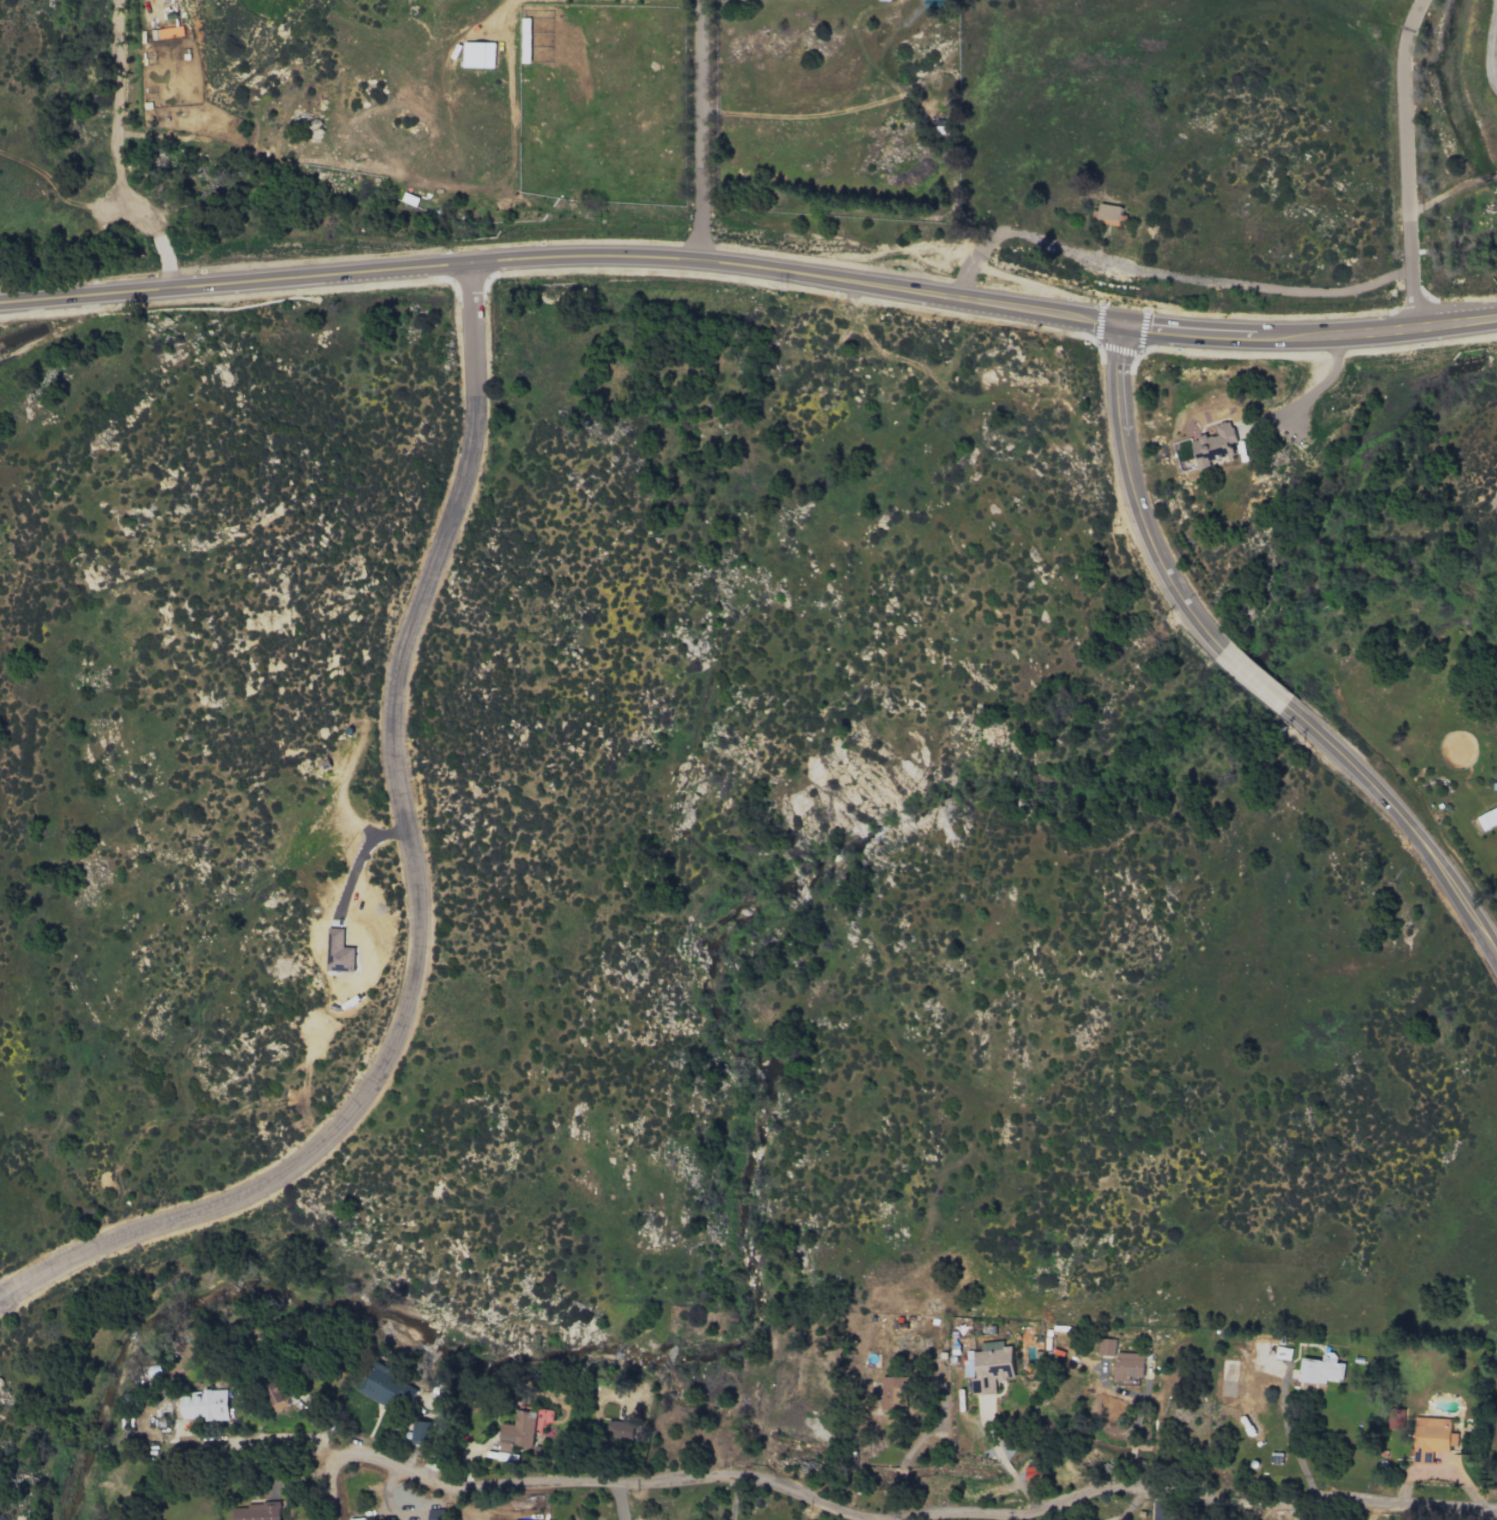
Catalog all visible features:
building: (526, 40)
building: (479, 55)
road: (700, 130)
road: (114, 152)
road: (1399, 161)
building: (1109, 214)
road: (559, 257)
road: (1159, 273)
traffic signals: (1115, 329)
road: (1306, 338)
road: (1320, 397)
building: (1214, 445)
road: (1249, 675)
building: (1488, 819)
road: (361, 854)
road: (419, 890)
building: (339, 953)
building: (1105, 1347)
building: (1128, 1366)
building: (991, 1367)
building: (1321, 1369)
building: (383, 1385)
building: (894, 1393)
building: (277, 1396)
building: (204, 1405)
road: (1136, 1412)
building: (1395, 1418)
building: (522, 1429)
building: (620, 1429)
road: (989, 1429)
building: (420, 1432)
road: (927, 1433)
building: (1431, 1438)
road: (262, 1439)
road: (1291, 1439)
road: (1132, 1451)
road: (1006, 1466)
road: (1129, 1473)
road: (896, 1476)
road: (748, 1480)
road: (441, 1484)
road: (1025, 1493)
road: (1206, 1496)
road: (620, 1500)
road: (733, 1500)
road: (892, 1502)
building: (257, 1511)
building: (435, 1514)

